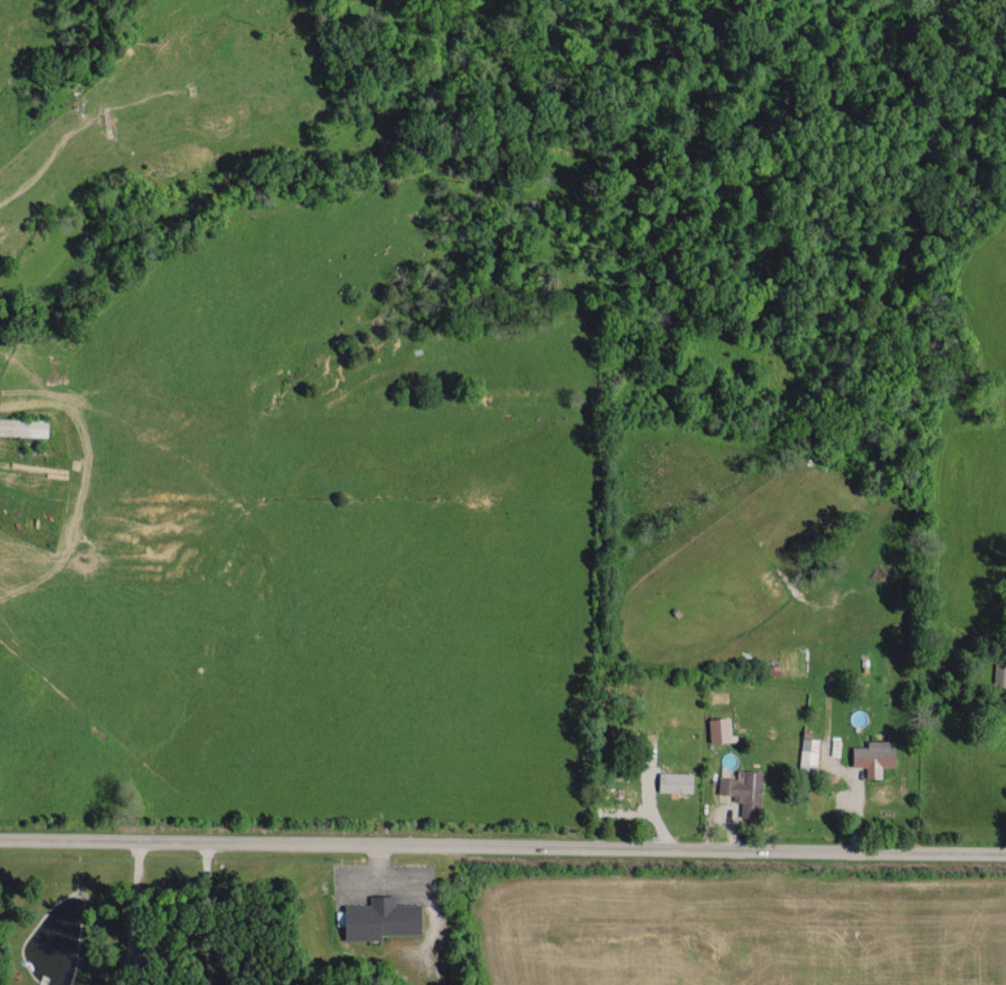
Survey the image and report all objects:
building: (24, 426)
building: (1000, 672)
building: (721, 729)
building: (809, 753)
building: (874, 755)
building: (676, 781)
building: (744, 790)
road: (502, 845)
road: (131, 910)
building: (381, 918)

